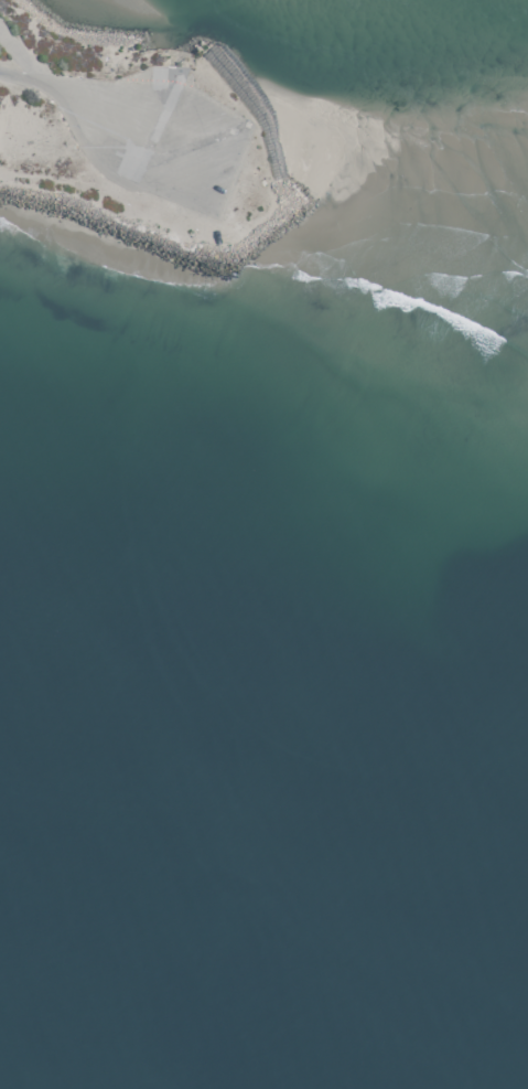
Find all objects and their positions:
road: (89, 94)
airport: (277, 234)

